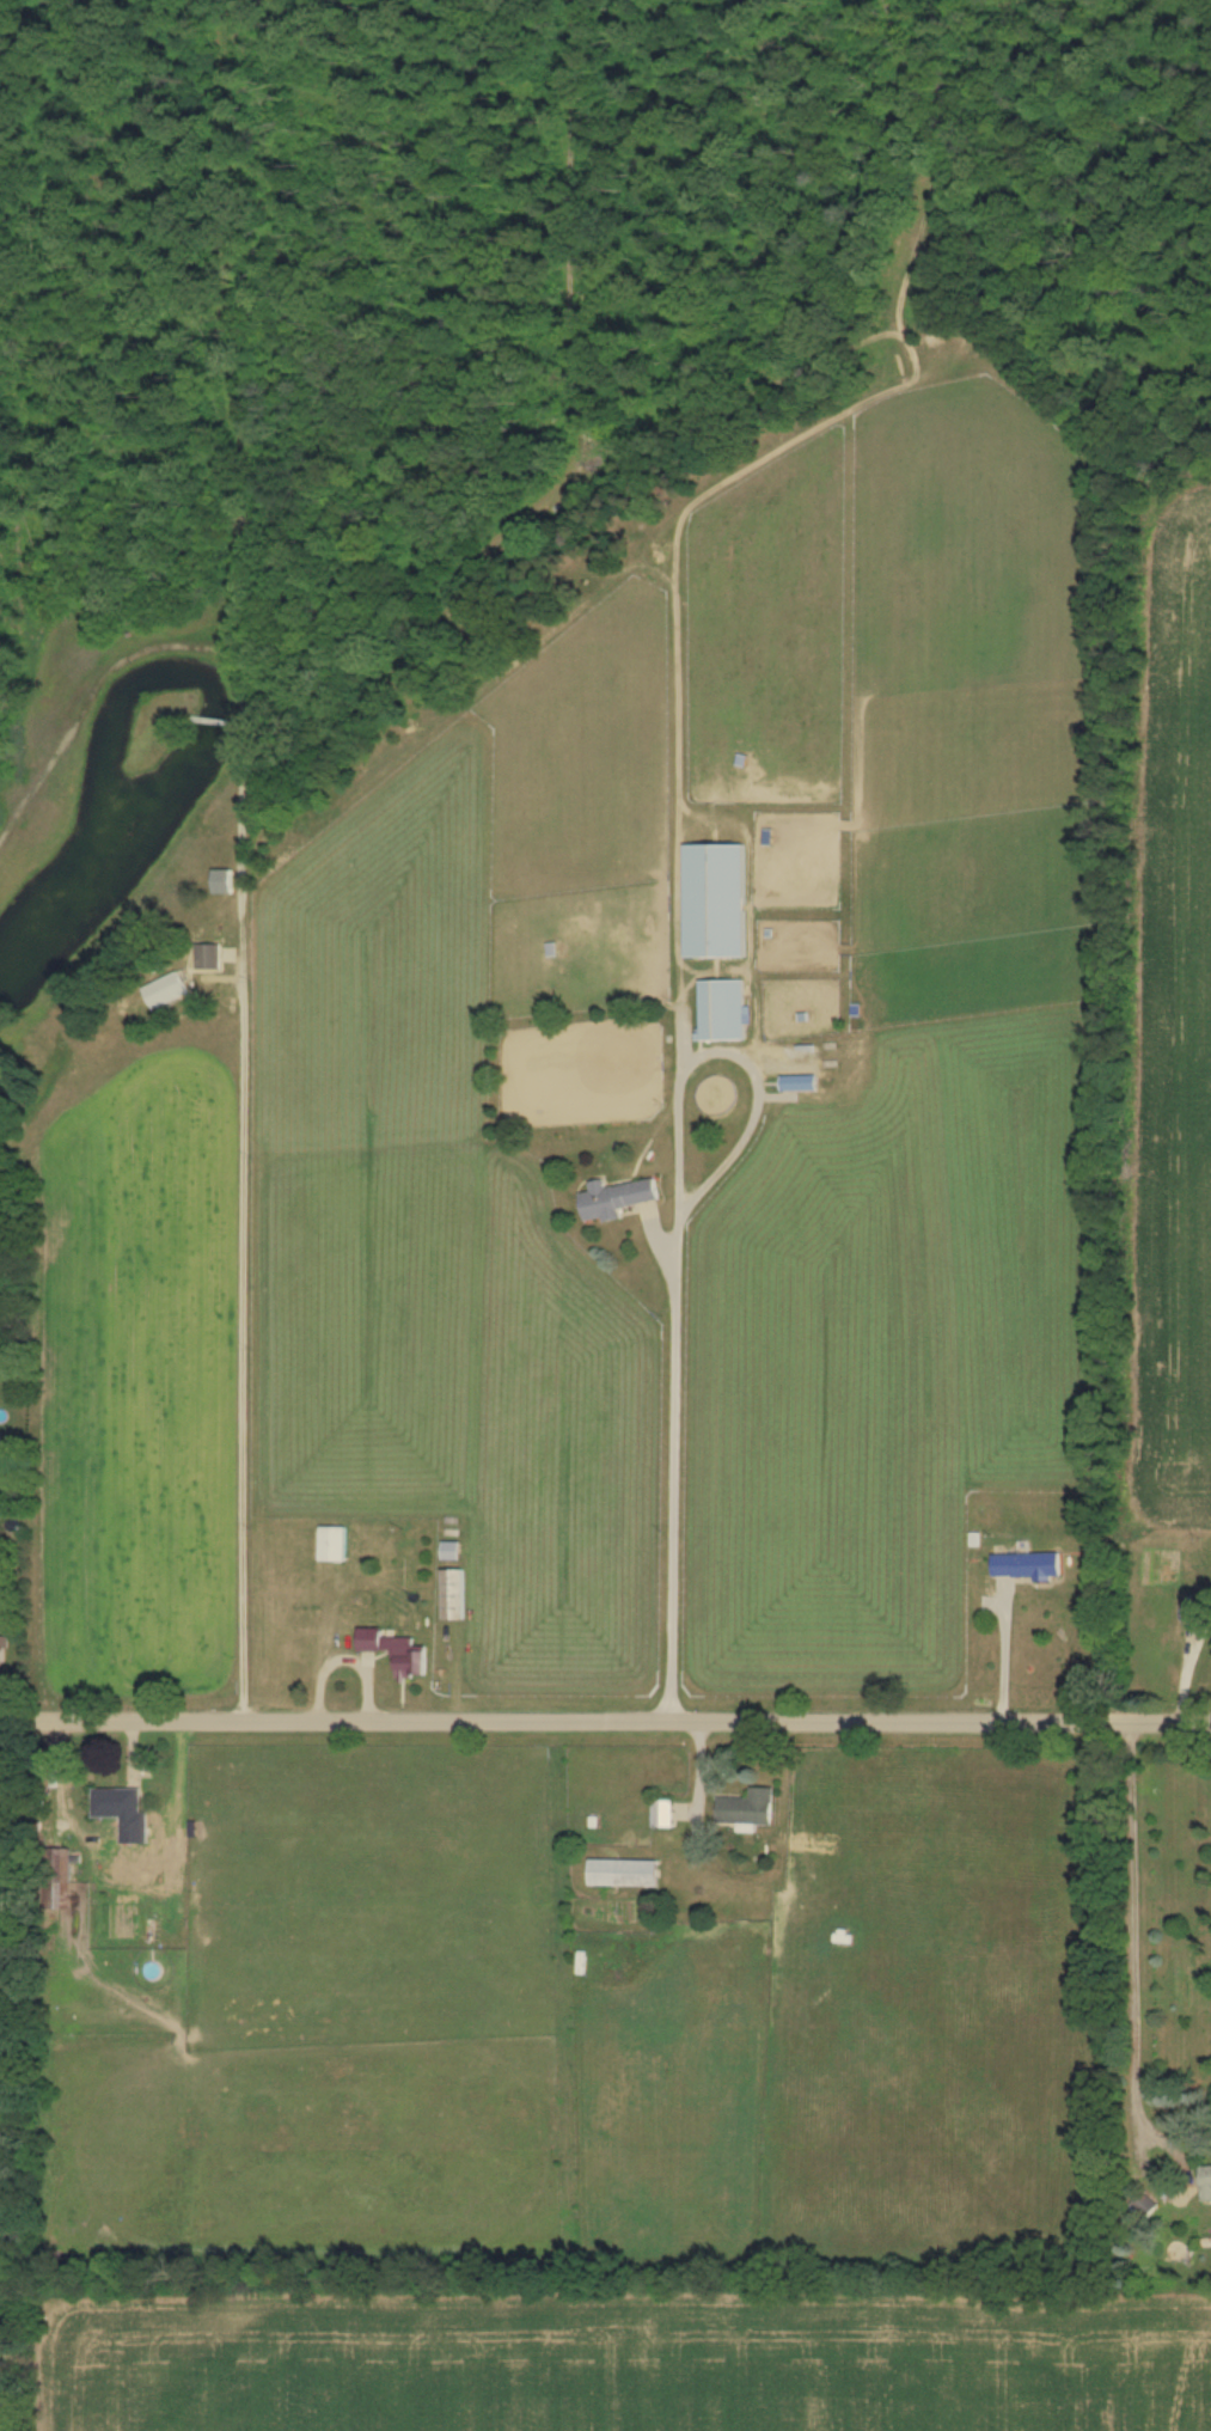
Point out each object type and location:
road: (675, 1271)
road: (258, 1339)
road: (1004, 1657)
road: (605, 1727)
road: (1113, 1924)

